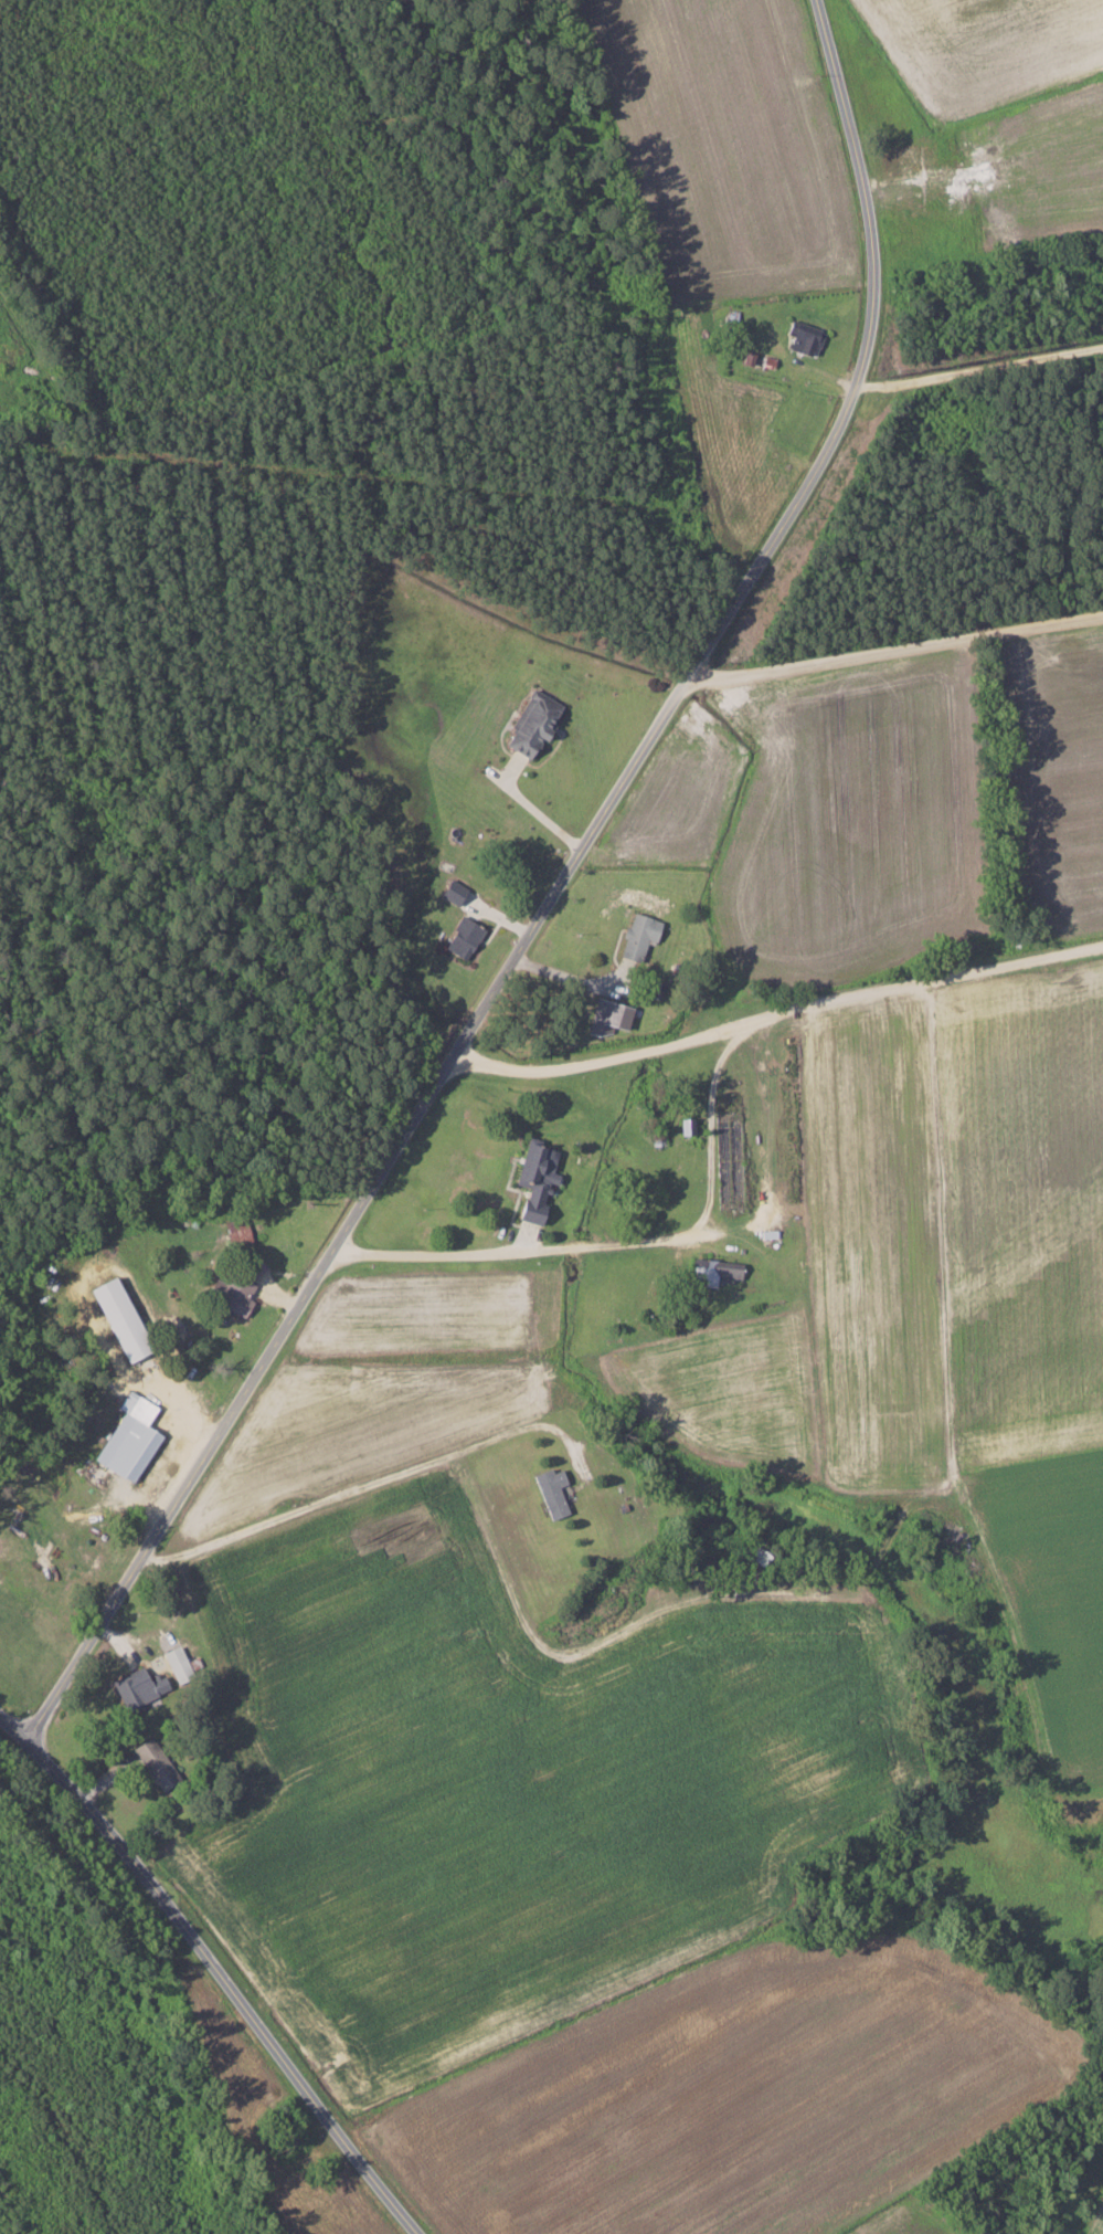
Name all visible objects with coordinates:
building: (802, 337)
road: (924, 582)
building: (530, 724)
building: (450, 891)
road: (540, 895)
building: (637, 937)
building: (462, 938)
building: (607, 1018)
road: (710, 1158)
building: (533, 1181)
building: (238, 1232)
building: (717, 1272)
building: (236, 1296)
building: (118, 1319)
building: (128, 1439)
building: (551, 1492)
road: (339, 1510)
building: (176, 1663)
building: (138, 1687)
building: (148, 1764)
road: (216, 1969)

